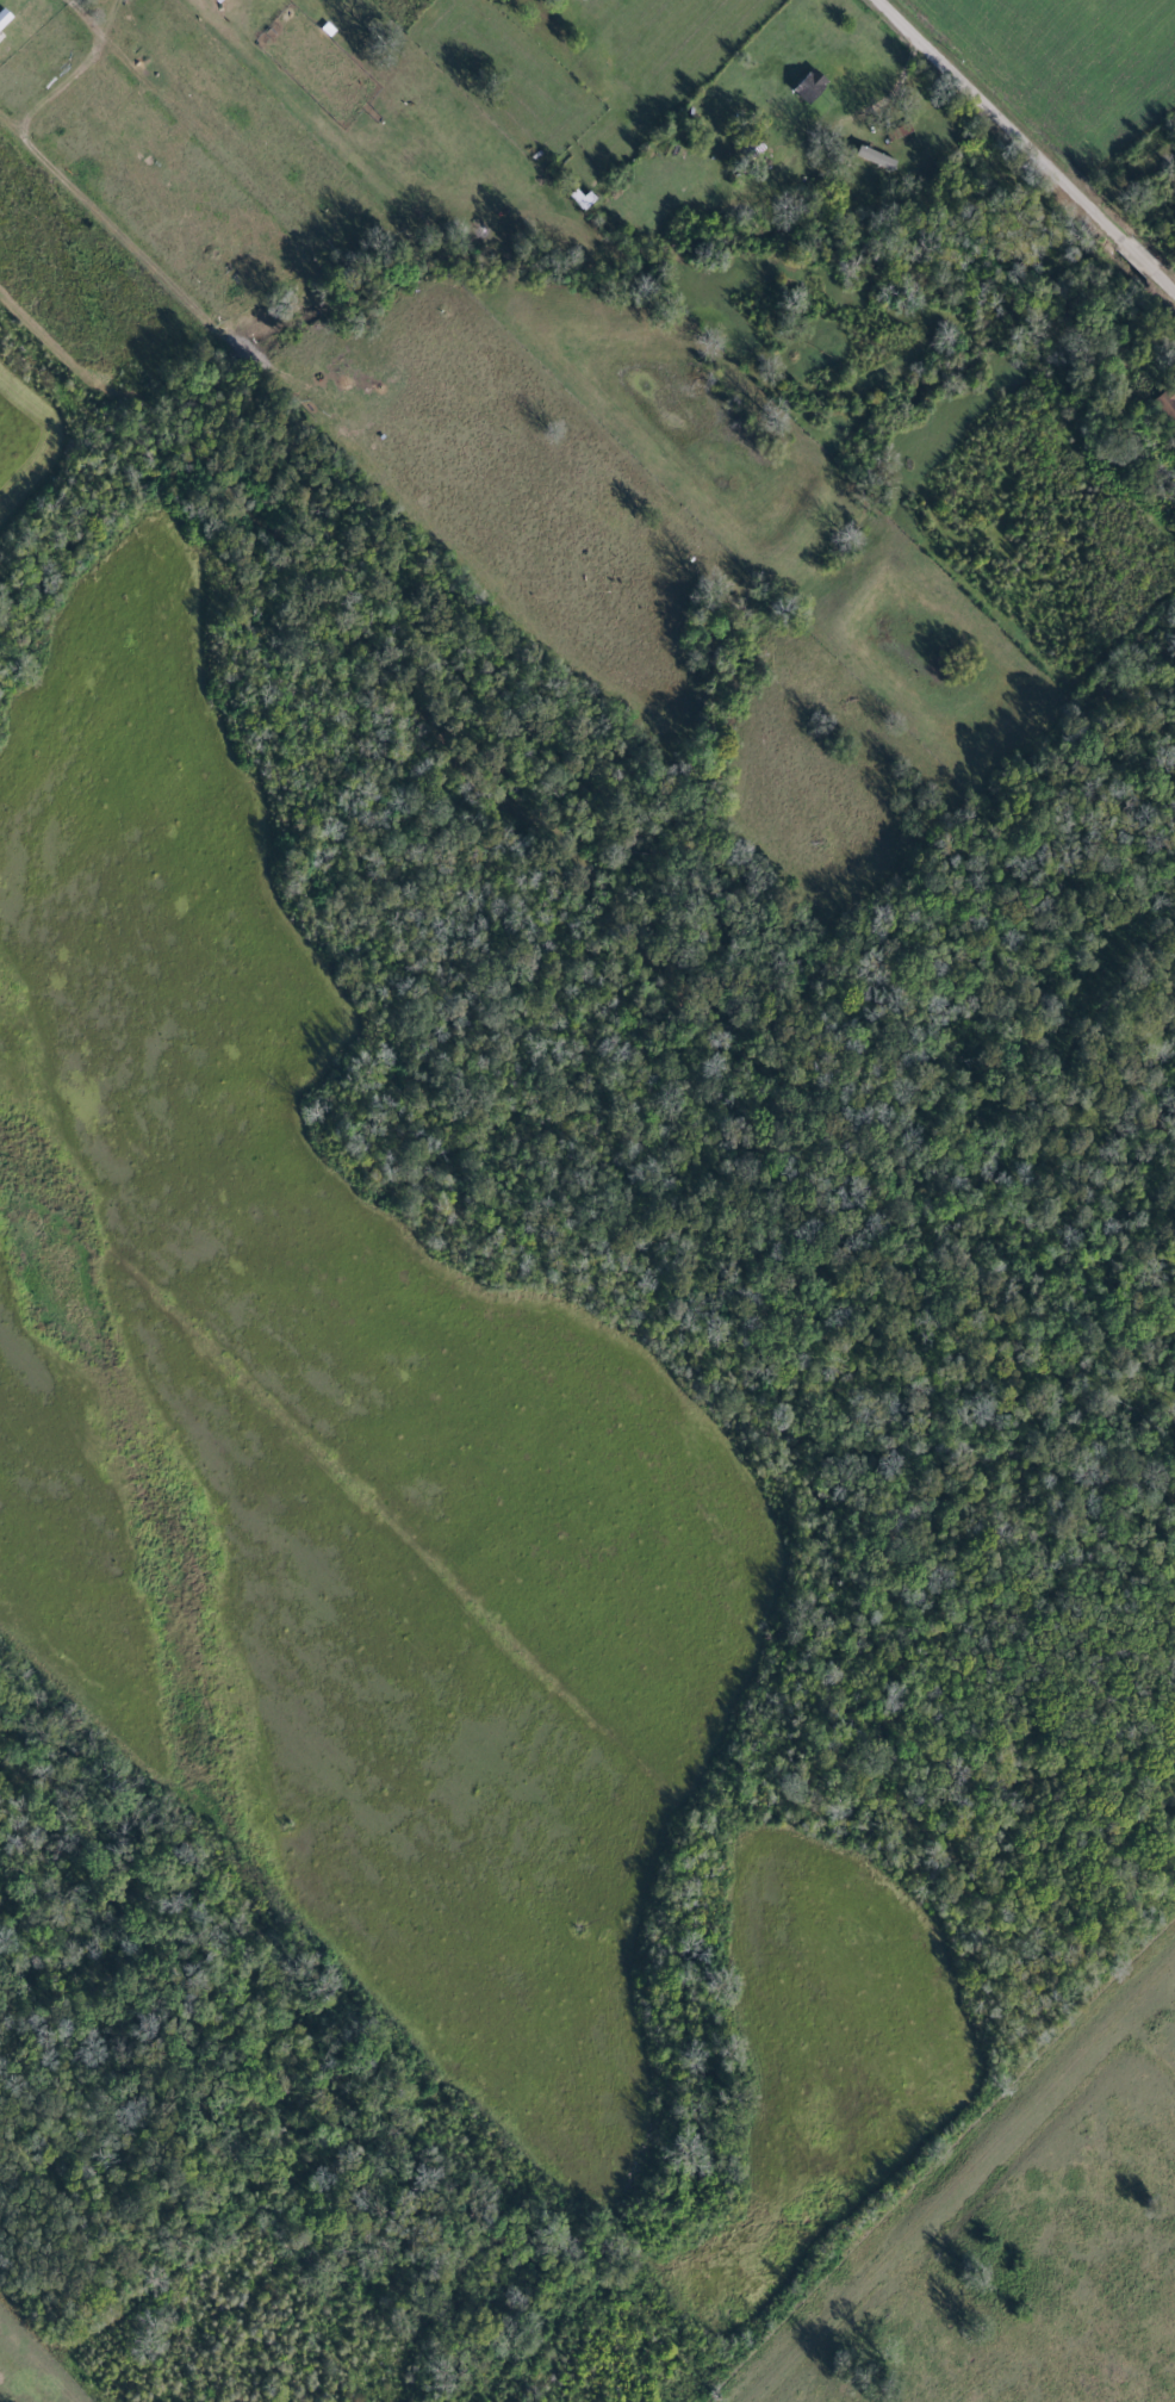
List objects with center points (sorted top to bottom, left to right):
building: (216, 0)
road: (10, 11)
road: (1, 17)
building: (5, 18)
building: (0, 36)
road: (135, 61)
road: (64, 83)
building: (803, 83)
road: (11, 122)
road: (1030, 141)
road: (174, 145)
building: (870, 157)
building: (577, 198)

